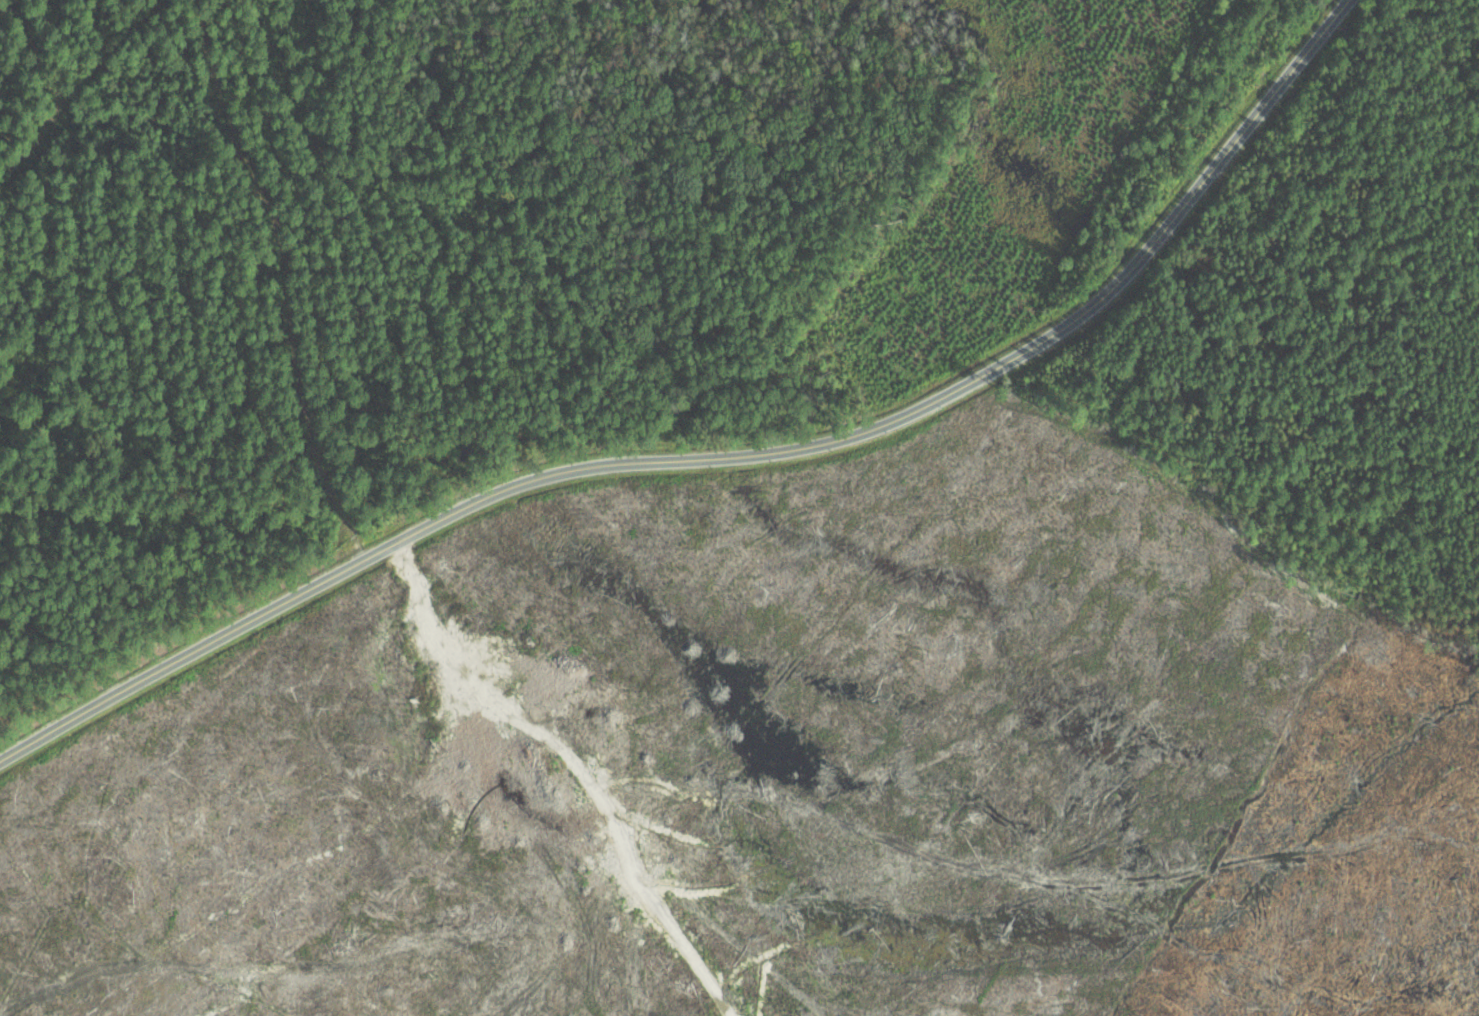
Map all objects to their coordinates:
road: (729, 461)

